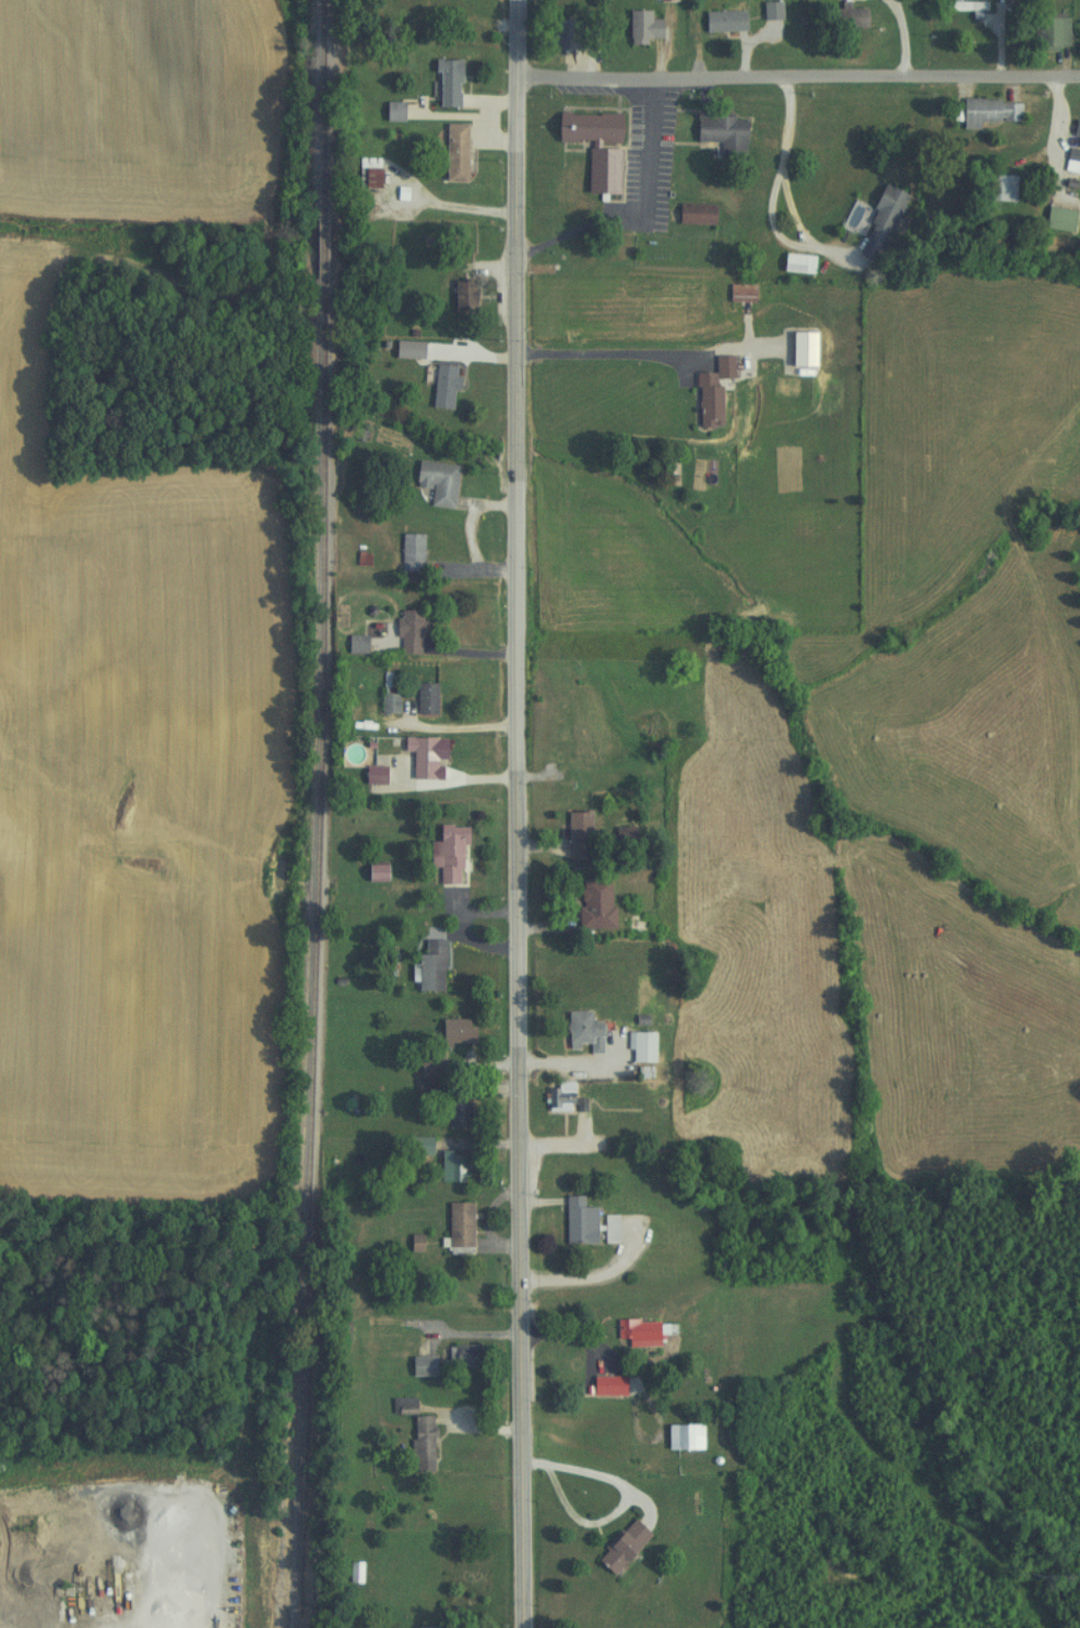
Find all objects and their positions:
building: (960, 7)
building: (767, 11)
building: (844, 16)
building: (719, 21)
building: (638, 26)
building: (1046, 32)
building: (556, 35)
road: (798, 78)
building: (442, 83)
railway: (317, 104)
building: (389, 111)
building: (986, 111)
road: (791, 123)
building: (581, 128)
building: (1073, 134)
building: (716, 135)
road: (1060, 136)
road: (642, 151)
building: (449, 153)
building: (1067, 161)
building: (596, 171)
building: (364, 173)
building: (995, 189)
building: (690, 214)
building: (1053, 219)
building: (876, 224)
road: (796, 238)
railway: (318, 242)
building: (736, 294)
building: (456, 299)
road: (642, 324)
building: (439, 387)
building: (708, 393)
building: (432, 482)
building: (406, 552)
building: (404, 632)
building: (348, 644)
building: (420, 699)
building: (384, 704)
building: (417, 757)
building: (369, 775)
road: (520, 813)
building: (573, 836)
building: (442, 853)
building: (370, 871)
building: (590, 903)
railway: (311, 953)
building: (425, 964)
building: (451, 1030)
building: (578, 1031)
building: (634, 1046)
building: (425, 1067)
building: (554, 1097)
building: (451, 1108)
building: (418, 1145)
building: (447, 1165)
building: (572, 1221)
building: (453, 1224)
building: (605, 1228)
road: (603, 1271)
building: (632, 1332)
building: (454, 1355)
building: (602, 1385)
building: (677, 1436)
building: (417, 1443)
building: (615, 1547)
building: (349, 1571)
building: (422, 1627)

